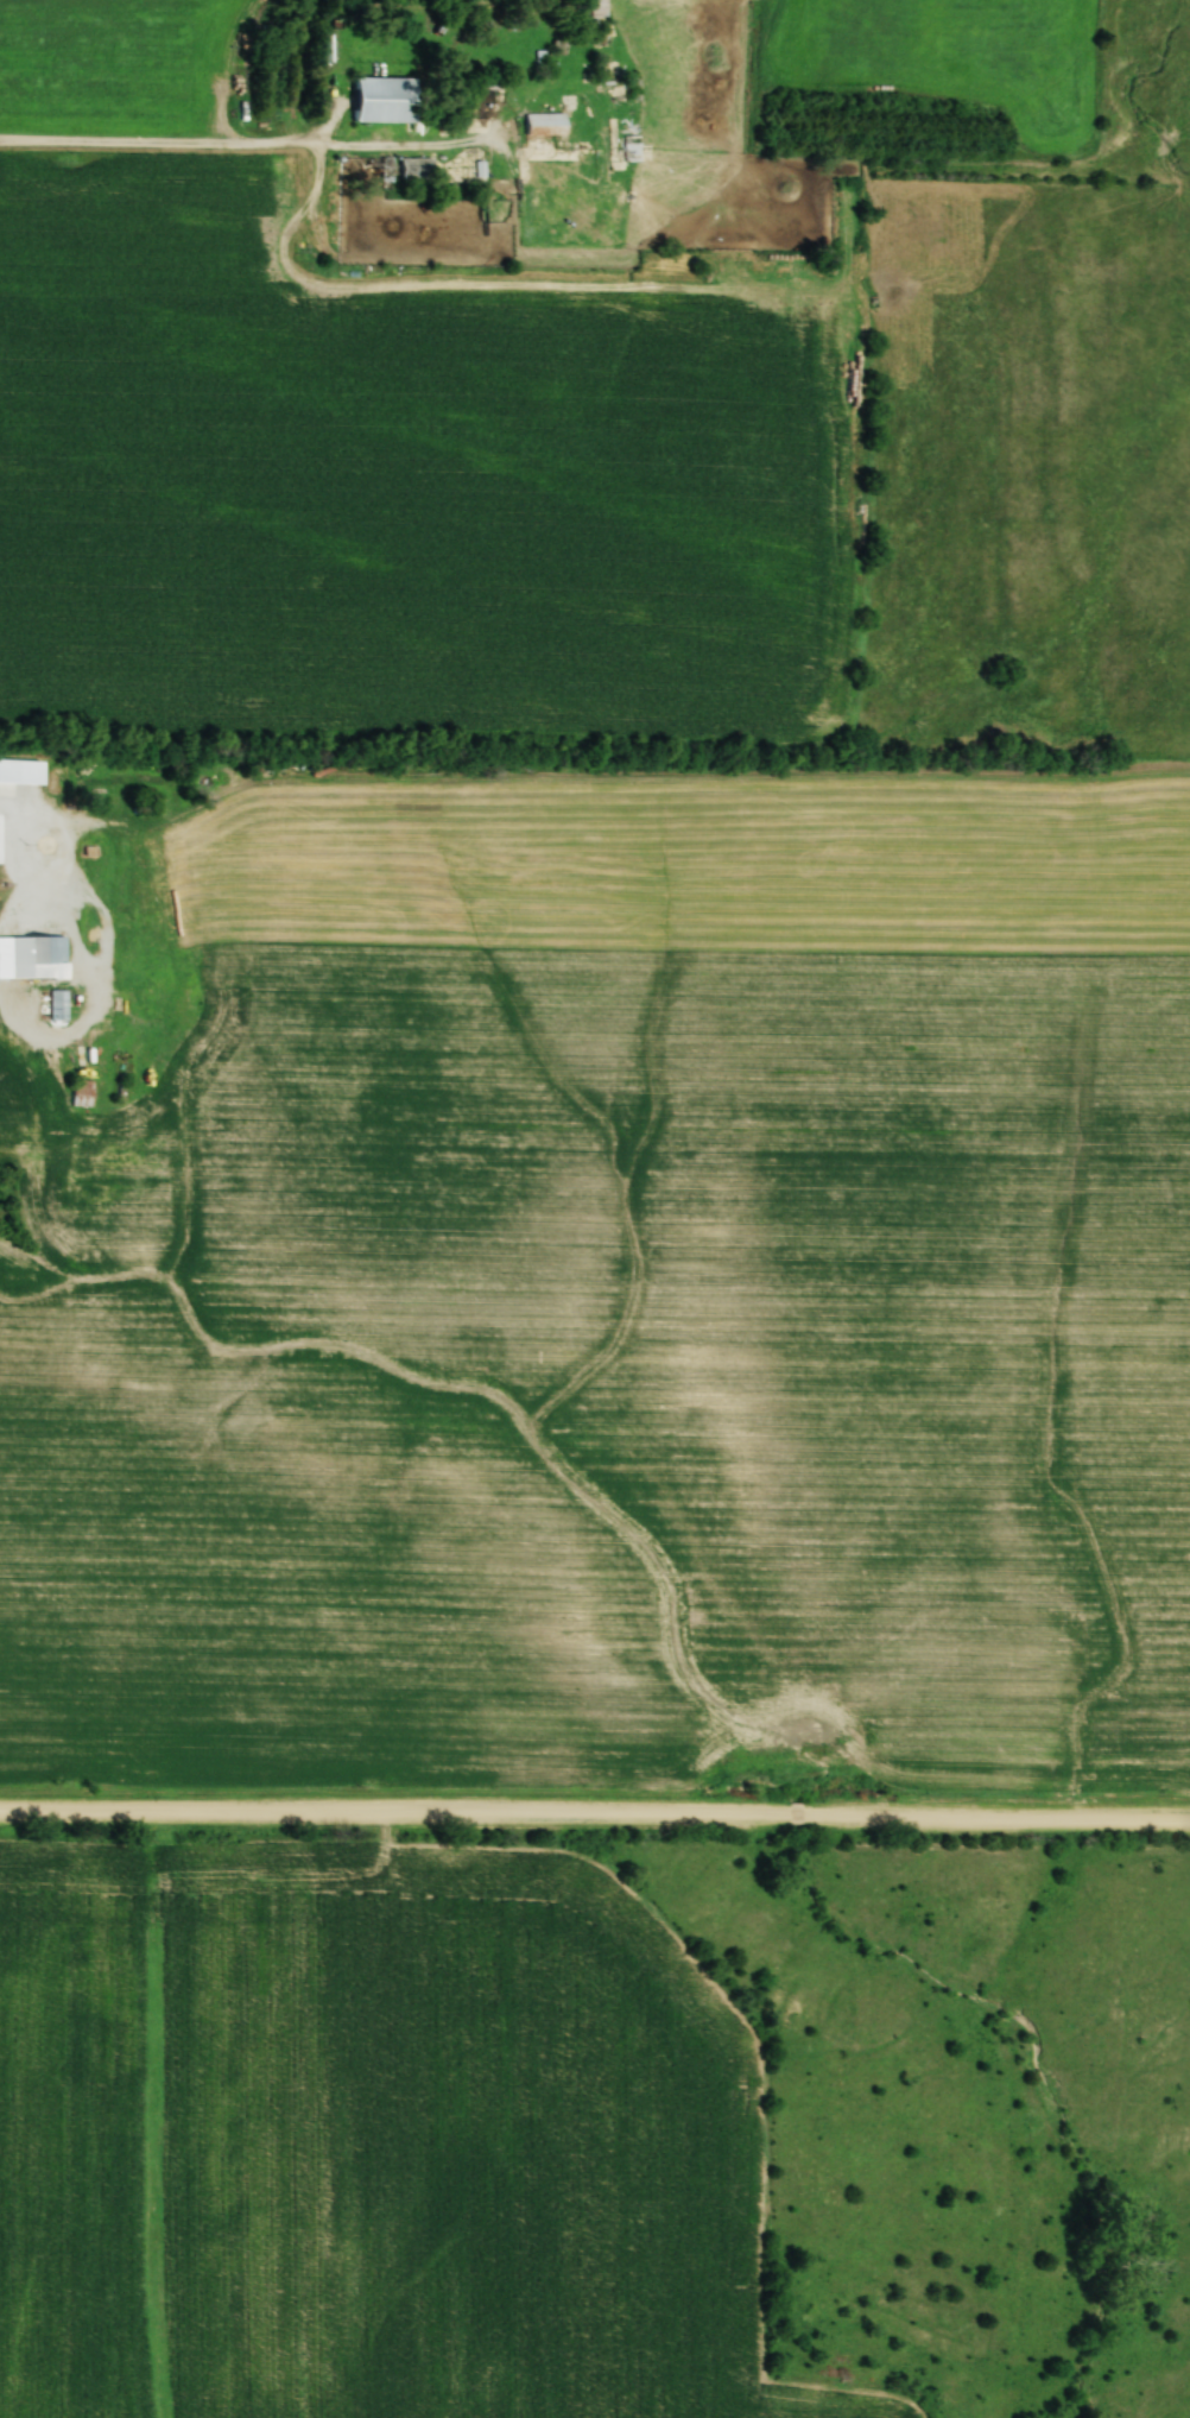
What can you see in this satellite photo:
building: (596, 6)
building: (624, 87)
building: (376, 99)
building: (540, 122)
road: (247, 147)
building: (627, 147)
building: (411, 168)
building: (10, 769)
building: (40, 957)
building: (56, 1004)
building: (78, 1092)
road: (595, 1814)

